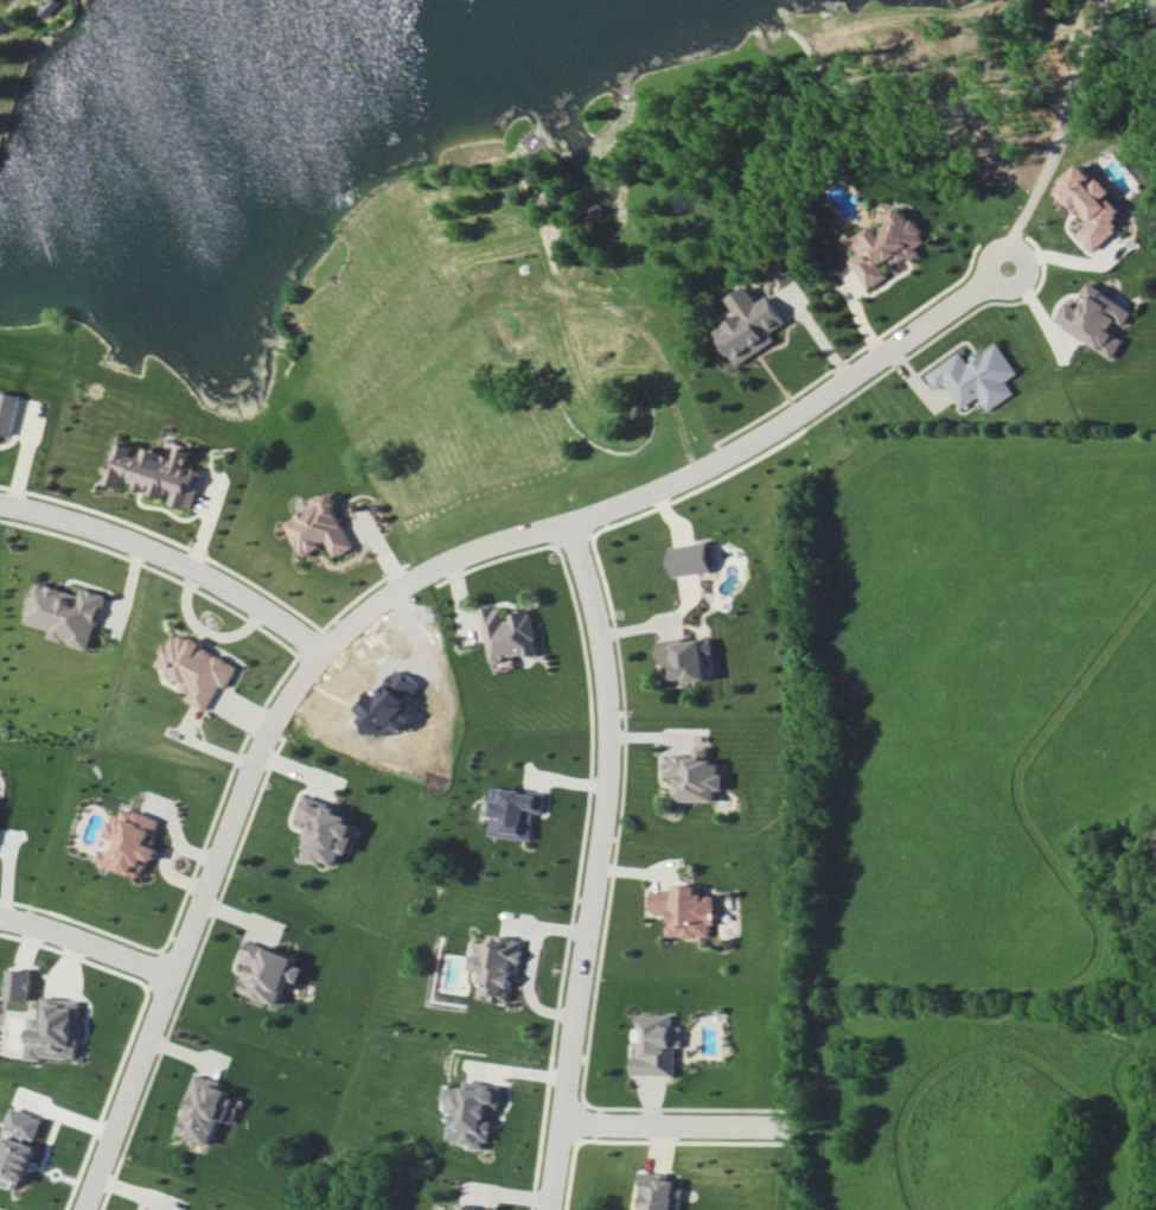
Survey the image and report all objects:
building: (62, 7)
road: (12, 28)
road: (1060, 132)
building: (1091, 205)
road: (539, 225)
building: (886, 246)
building: (1096, 318)
building: (748, 325)
building: (976, 376)
road: (391, 381)
building: (7, 410)
building: (152, 471)
building: (319, 528)
road: (509, 541)
building: (691, 558)
building: (64, 612)
building: (510, 633)
building: (685, 657)
building: (194, 669)
building: (696, 775)
building: (515, 813)
building: (325, 830)
building: (130, 841)
road: (596, 865)
building: (684, 910)
road: (189, 923)
road: (84, 944)
road: (530, 960)
building: (499, 968)
building: (268, 972)
building: (20, 983)
building: (57, 1028)
building: (656, 1044)
building: (205, 1110)
building: (473, 1112)
road: (666, 1128)
building: (19, 1144)
building: (659, 1192)
building: (446, 1209)

